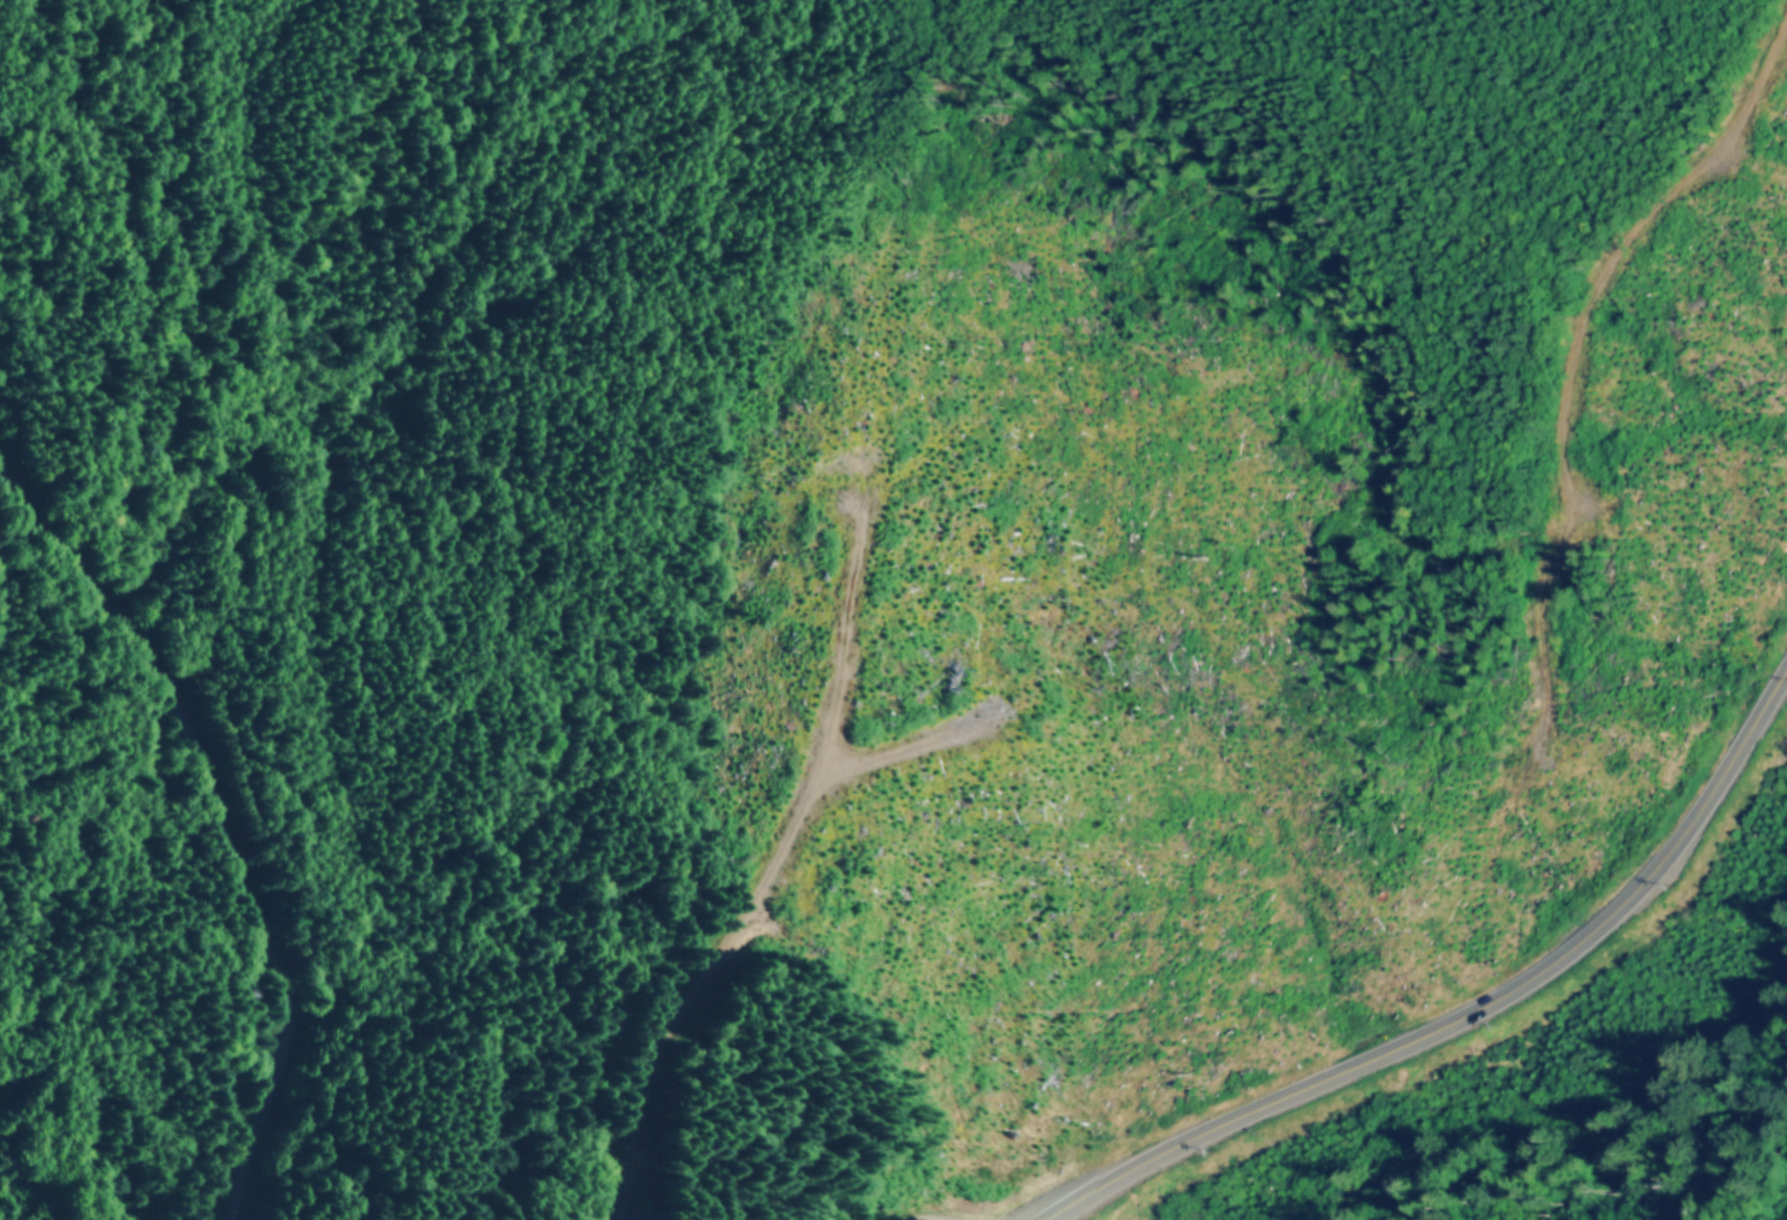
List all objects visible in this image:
road: (231, 810)
road: (1471, 1011)
road: (919, 1218)

